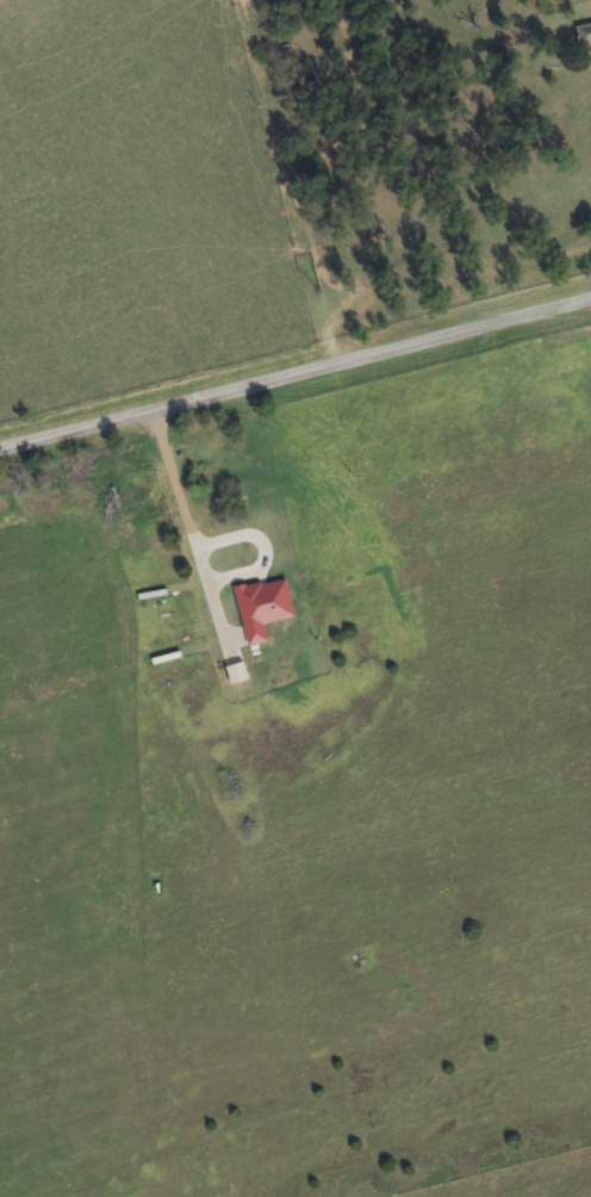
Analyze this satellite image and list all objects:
building: (583, 35)
road: (438, 258)
road: (295, 374)
building: (199, 478)

